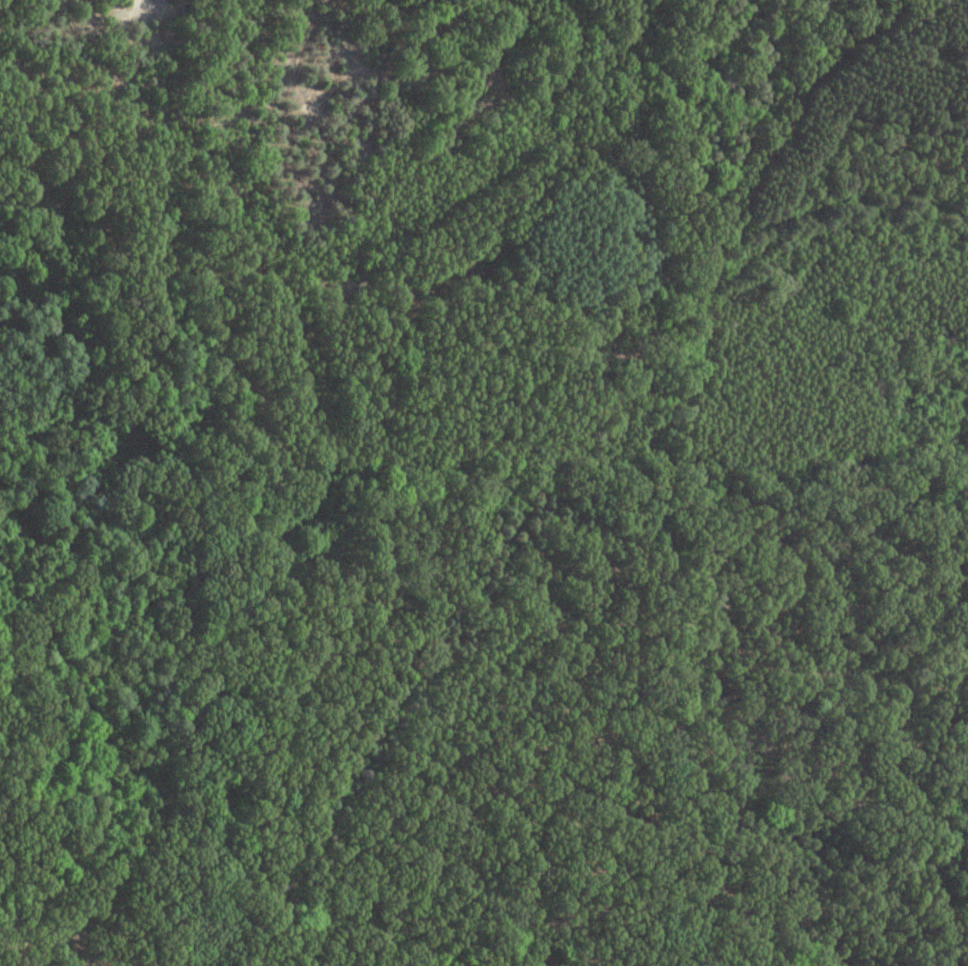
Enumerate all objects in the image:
road: (94, 921)

